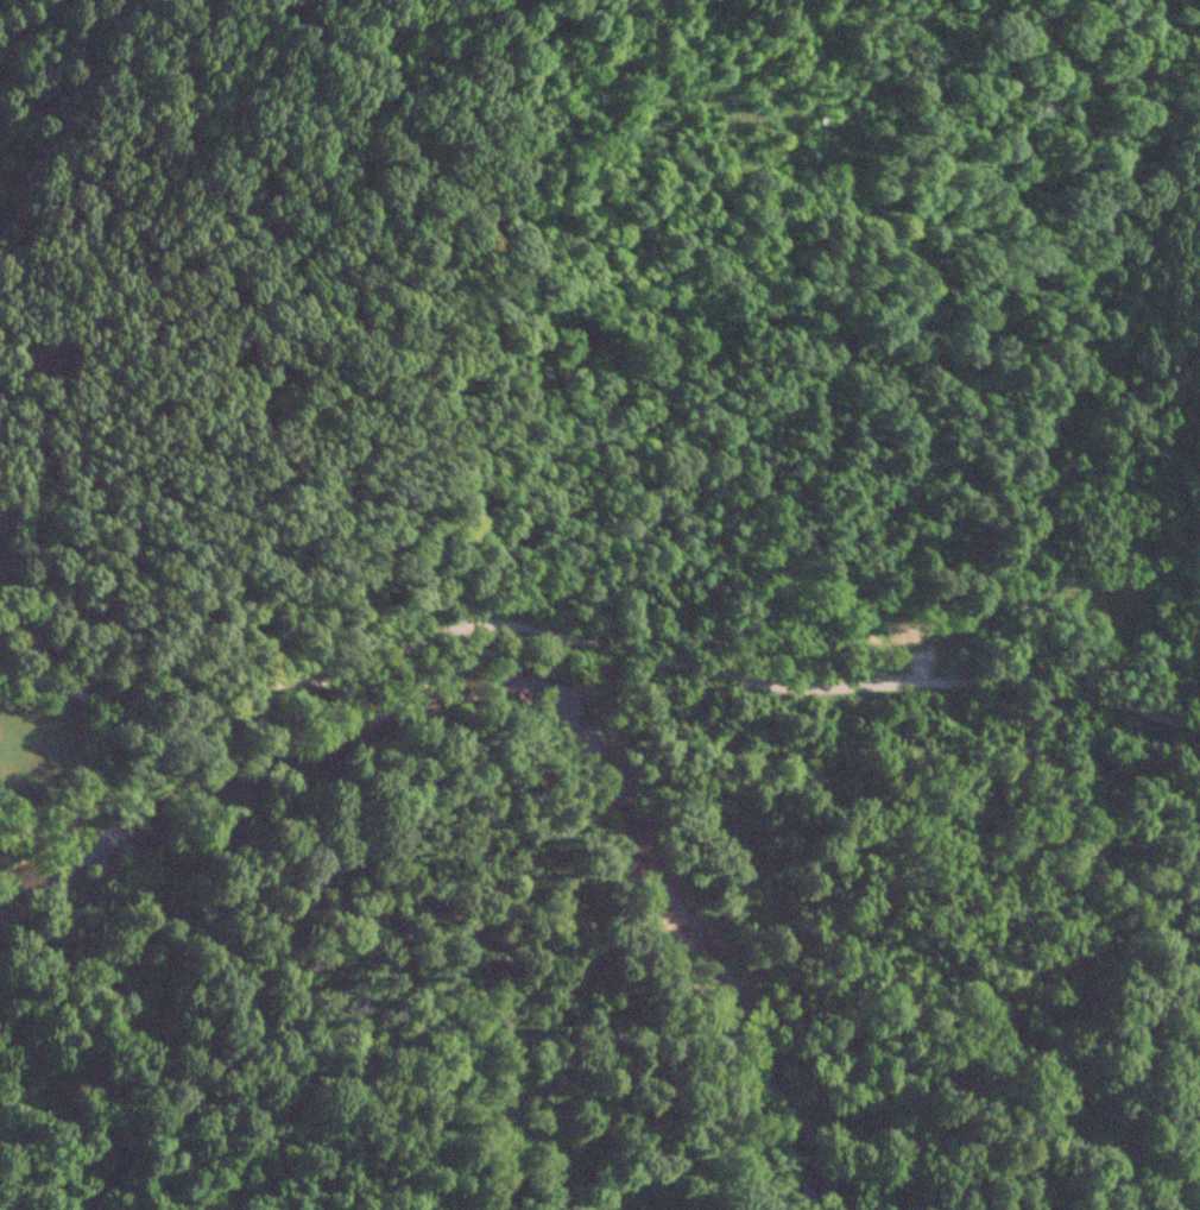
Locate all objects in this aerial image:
road: (592, 641)

